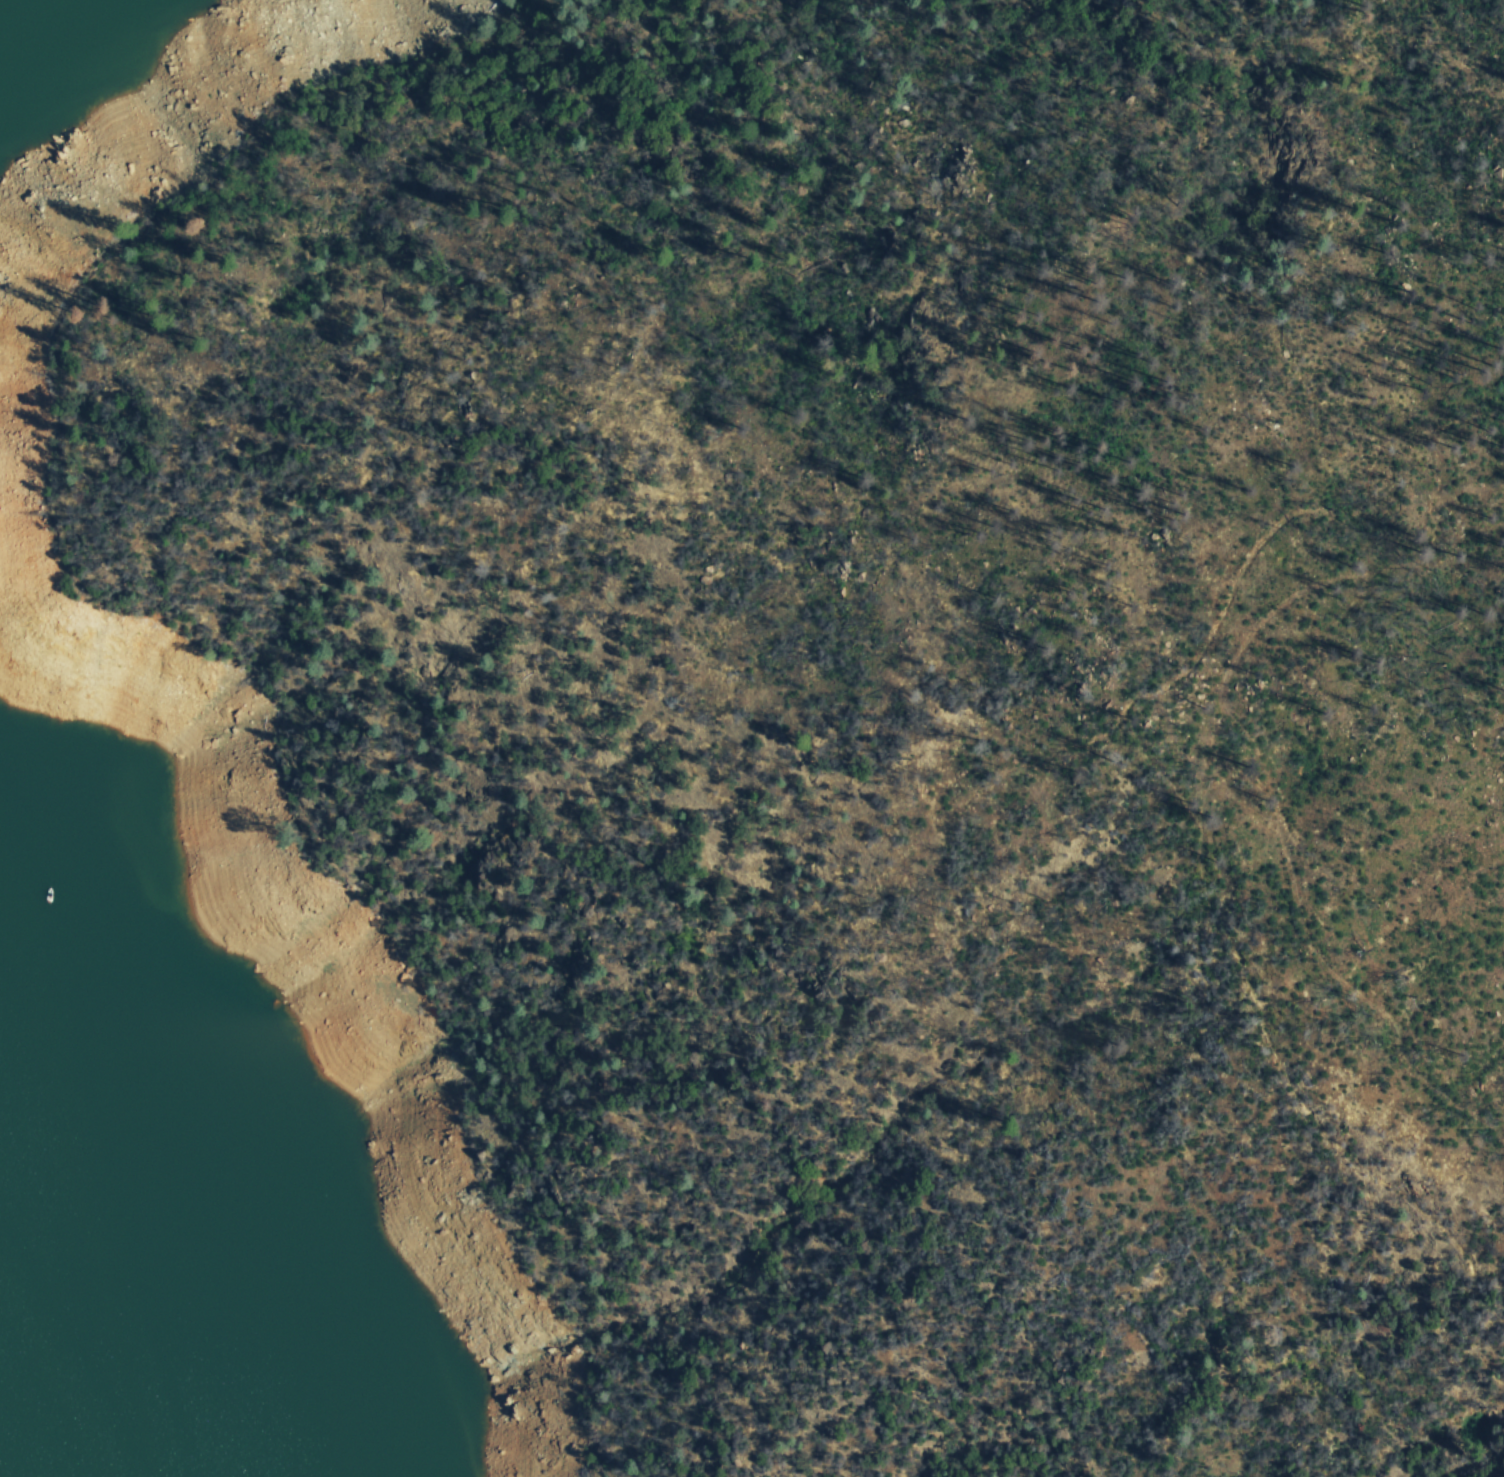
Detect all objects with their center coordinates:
river: (17, 1403)

